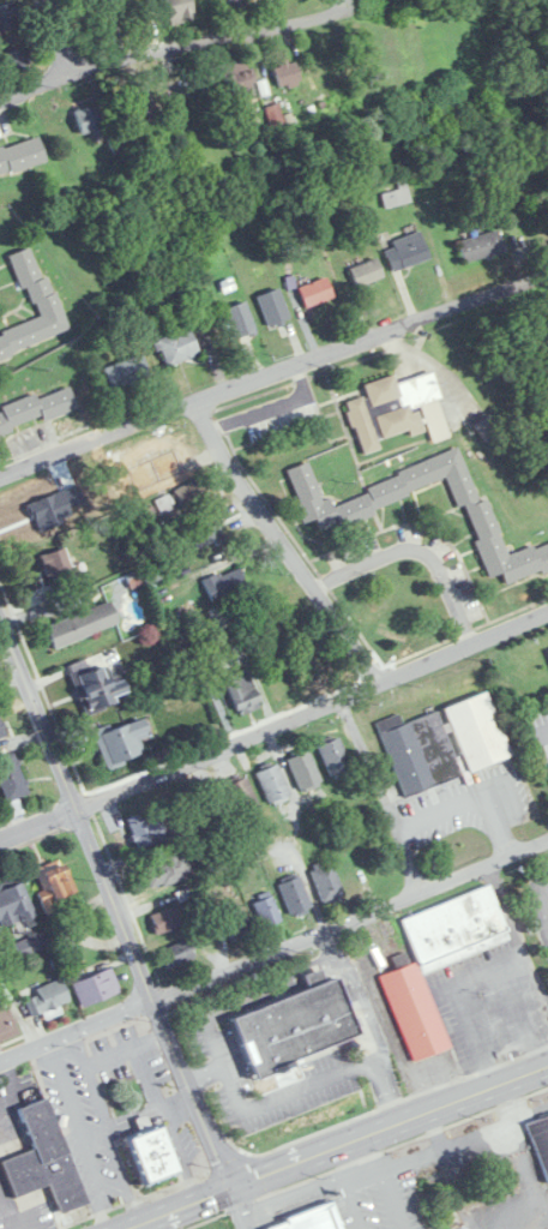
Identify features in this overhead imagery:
building: (179, 11)
building: (8, 16)
road: (58, 35)
road: (174, 46)
building: (17, 61)
building: (287, 72)
building: (235, 88)
building: (140, 104)
building: (273, 116)
building: (88, 119)
building: (20, 156)
building: (396, 196)
building: (481, 246)
building: (407, 252)
building: (366, 272)
building: (315, 293)
building: (273, 307)
building: (35, 311)
building: (240, 320)
building: (177, 347)
building: (125, 372)
road: (273, 373)
building: (389, 409)
building: (36, 410)
building: (486, 428)
building: (180, 498)
building: (332, 515)
building: (206, 532)
road: (284, 545)
road: (417, 551)
building: (224, 584)
building: (82, 625)
road: (7, 646)
building: (98, 689)
building: (242, 693)
road: (275, 727)
building: (1, 731)
building: (477, 732)
building: (121, 742)
building: (420, 753)
building: (335, 759)
building: (305, 772)
building: (12, 779)
building: (272, 784)
road: (383, 793)
building: (241, 798)
road: (471, 802)
building: (146, 827)
building: (165, 869)
road: (547, 871)
road: (547, 875)
building: (326, 881)
building: (54, 885)
building: (294, 895)
road: (115, 898)
building: (13, 904)
building: (266, 912)
road: (507, 913)
building: (167, 919)
building: (237, 924)
road: (330, 942)
road: (273, 949)
building: (177, 953)
building: (439, 963)
road: (477, 972)
building: (96, 987)
building: (46, 999)
road: (246, 999)
building: (6, 1024)
building: (295, 1029)
road: (152, 1041)
road: (137, 1053)
road: (13, 1089)
road: (297, 1091)
road: (83, 1135)
road: (95, 1135)
building: (541, 1143)
road: (110, 1145)
road: (338, 1146)
road: (179, 1155)
building: (150, 1157)
building: (44, 1159)
road: (239, 1209)
road: (6, 1211)
building: (314, 1218)

